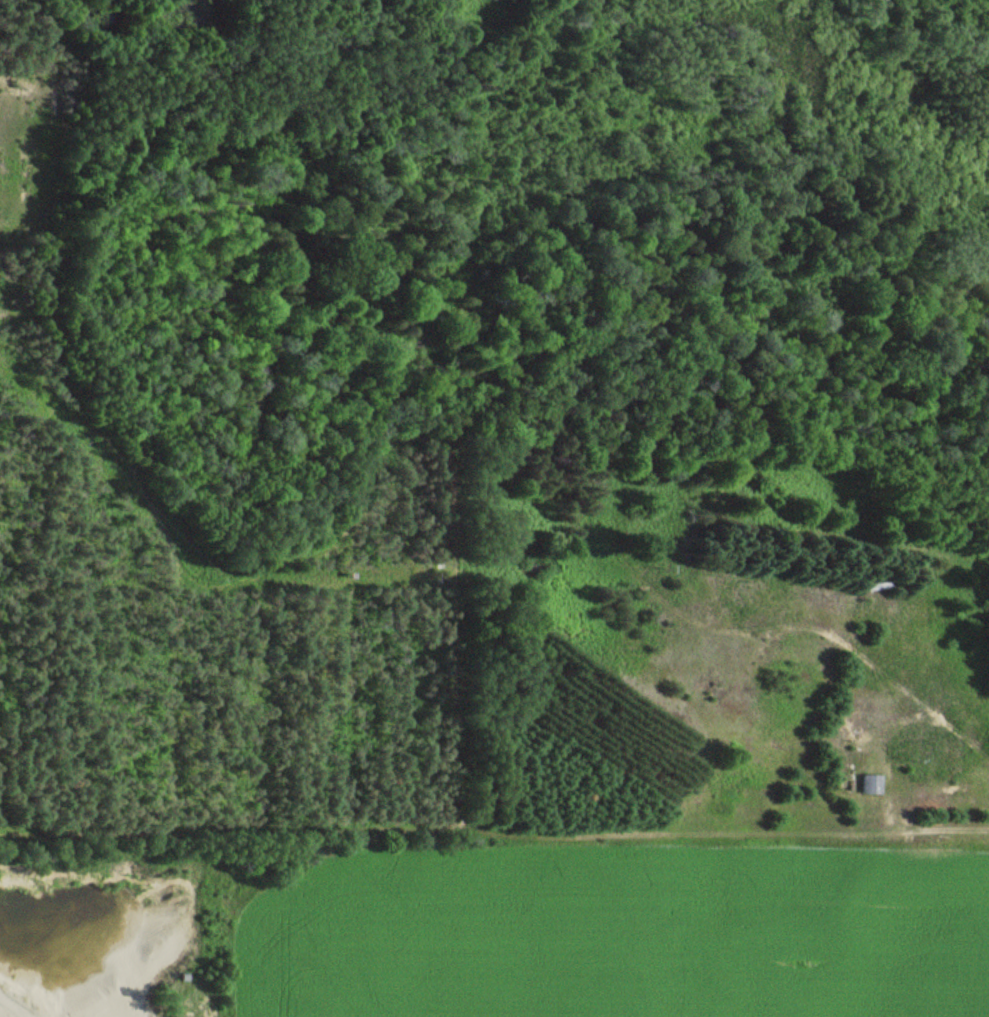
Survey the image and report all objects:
building: (873, 784)
road: (947, 824)
quarry: (111, 936)

